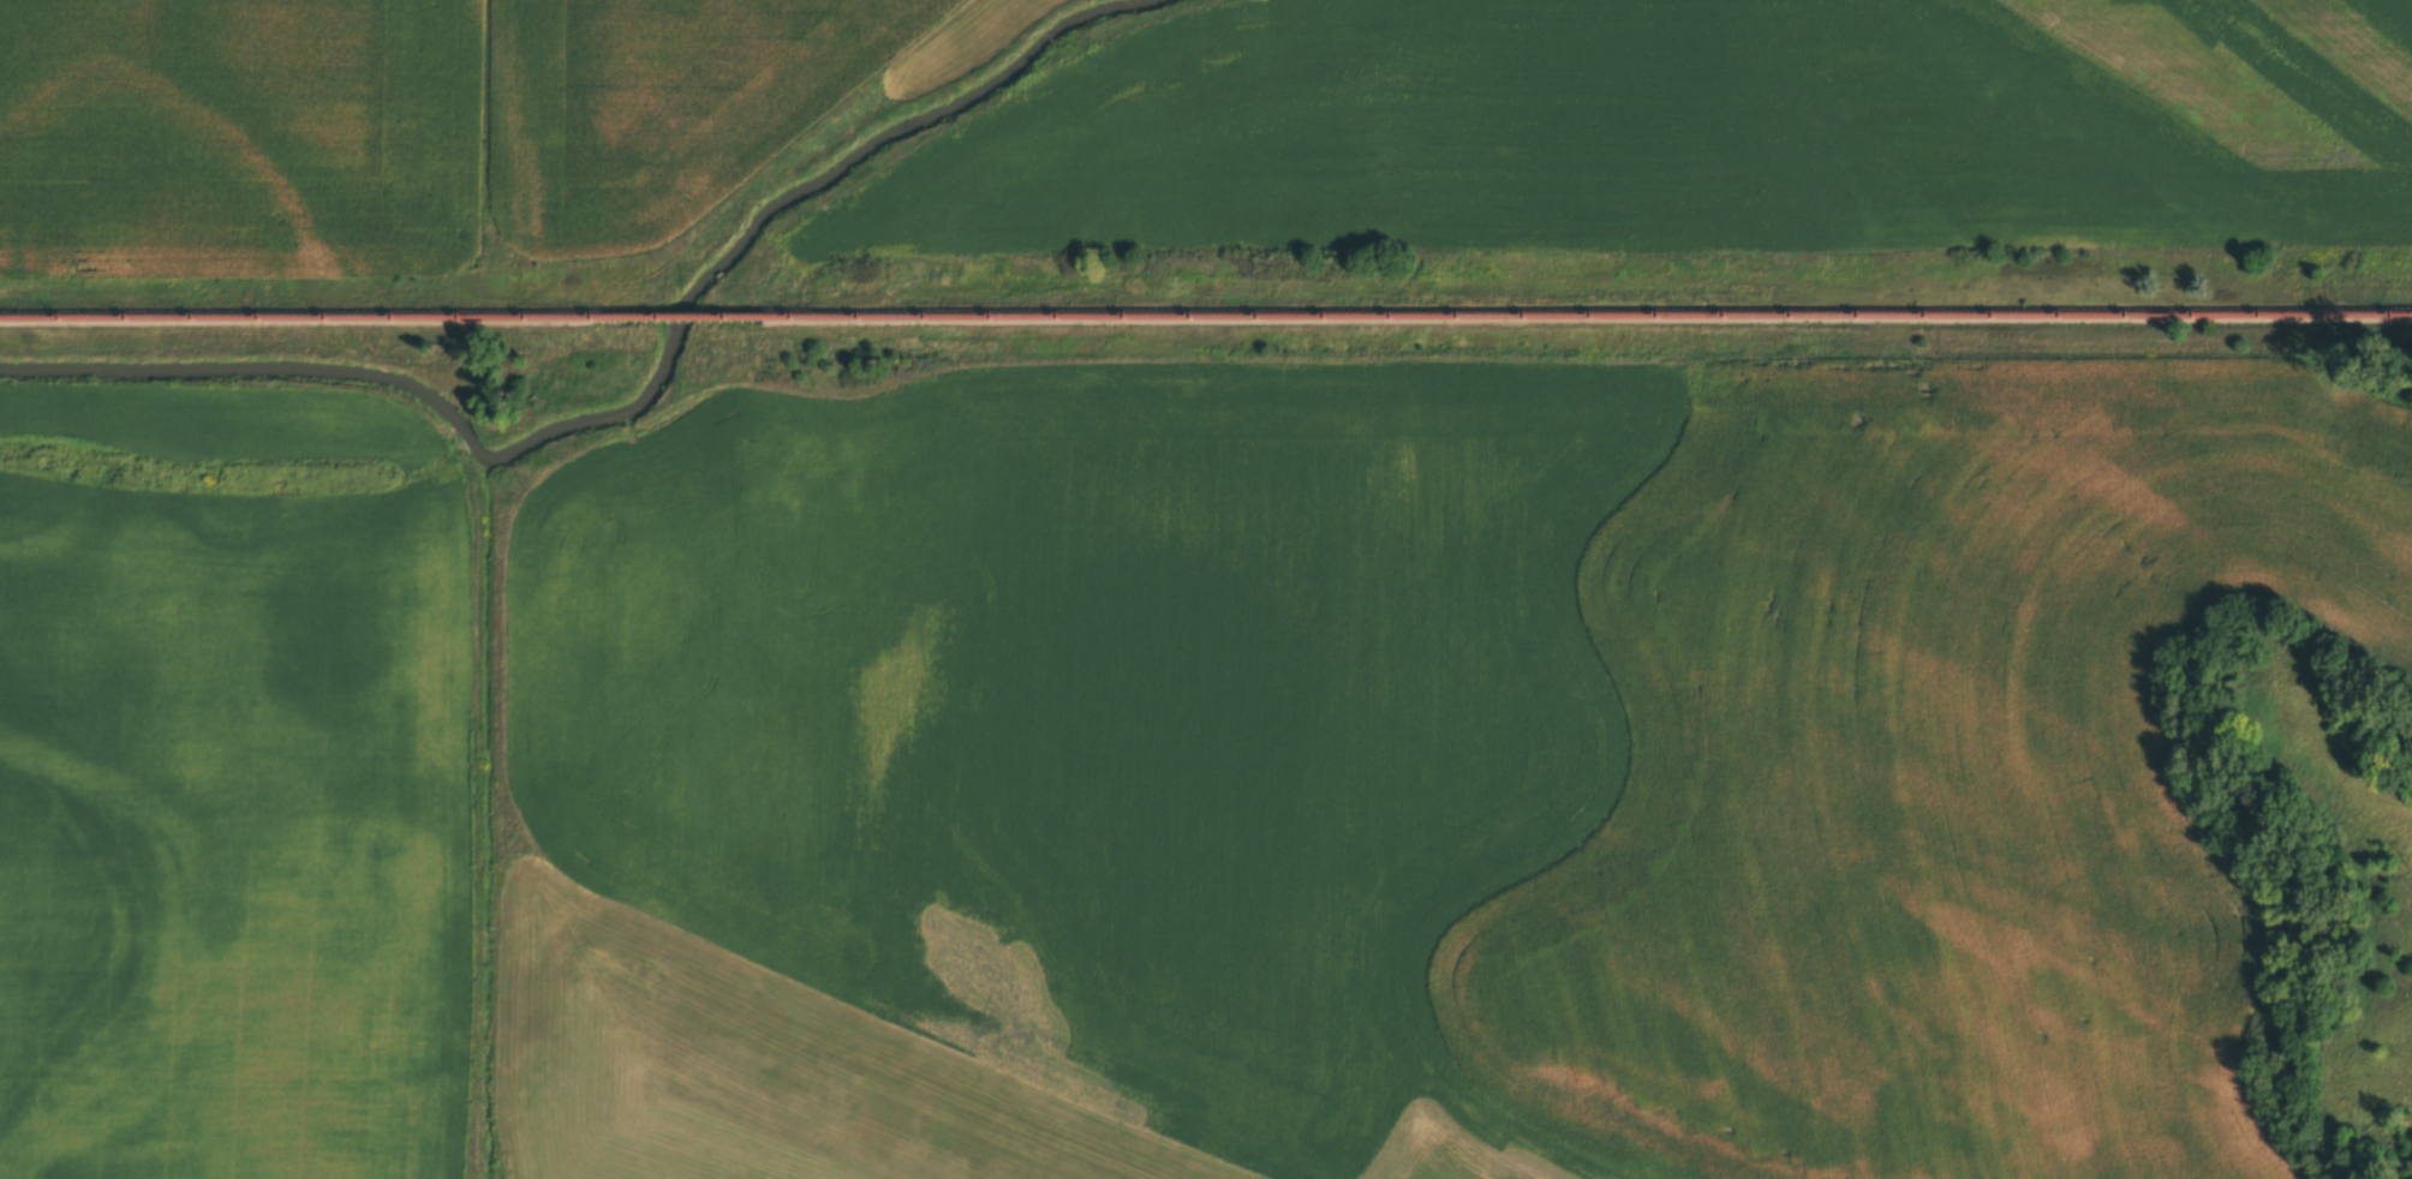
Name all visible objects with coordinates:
railway: (299, 316)
railway: (680, 316)
railway: (1586, 316)

